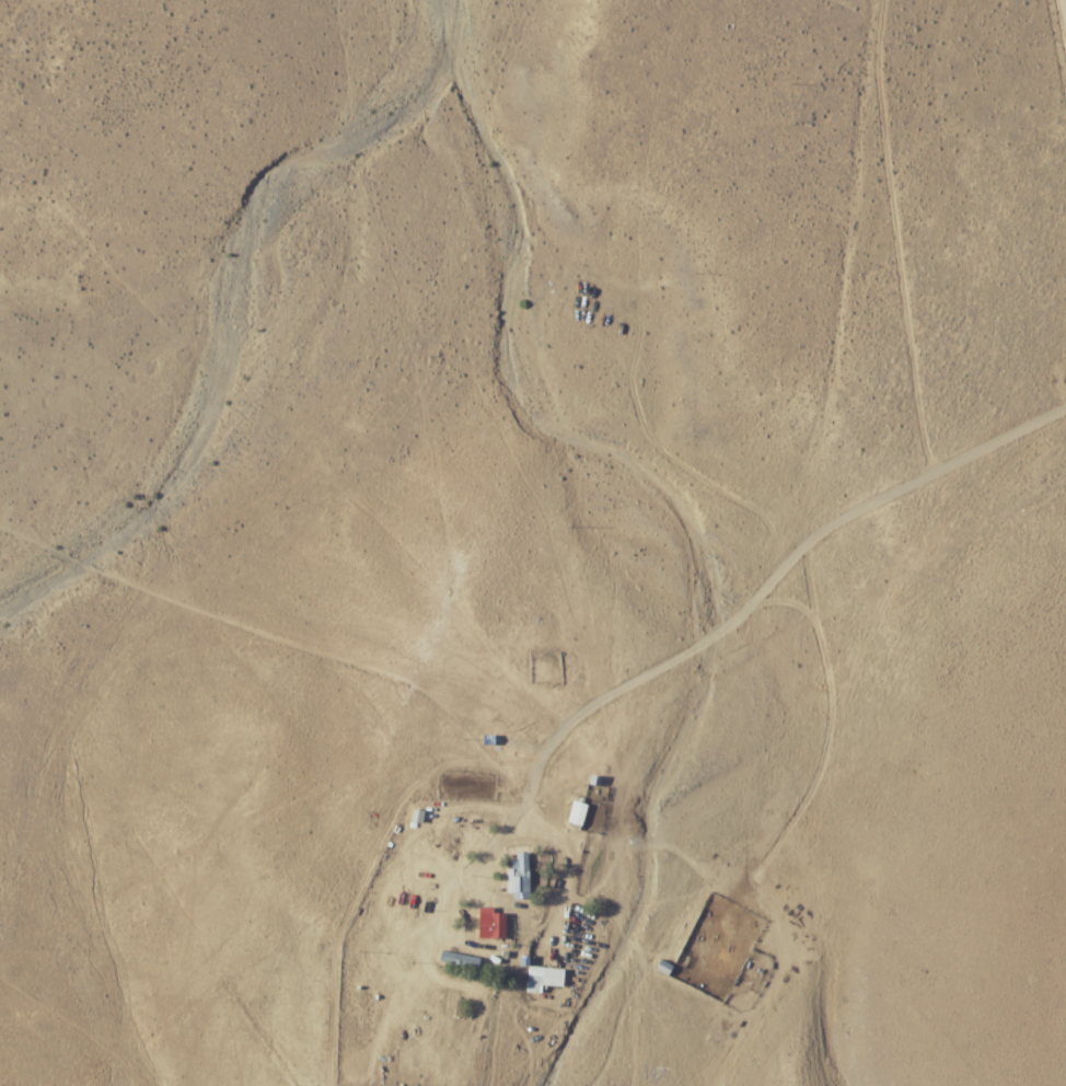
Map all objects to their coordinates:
river: (248, 323)
road: (904, 478)
road: (918, 620)
road: (673, 673)
road: (622, 751)
road: (222, 821)
building: (519, 875)
road: (470, 913)
building: (491, 924)
building: (460, 958)
building: (546, 979)

